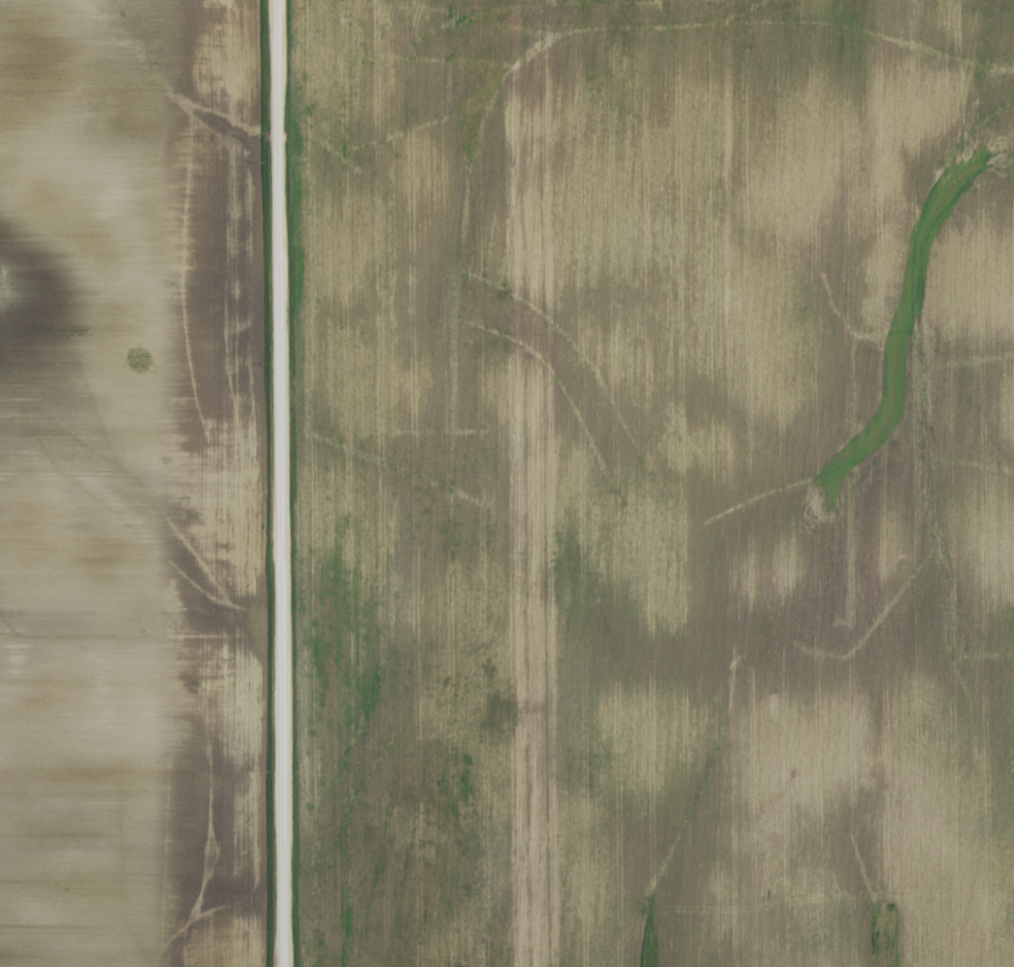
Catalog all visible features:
road: (281, 483)

